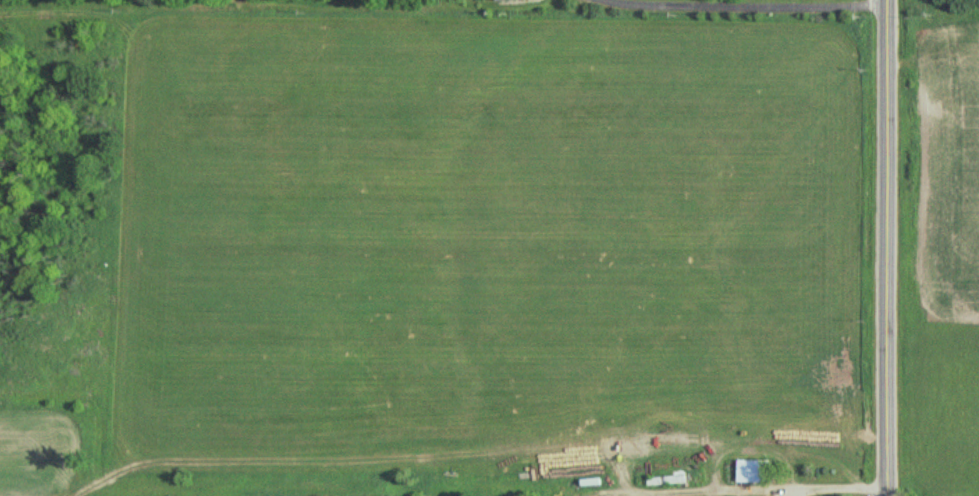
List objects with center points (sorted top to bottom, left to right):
road: (750, 4)
road: (888, 247)

